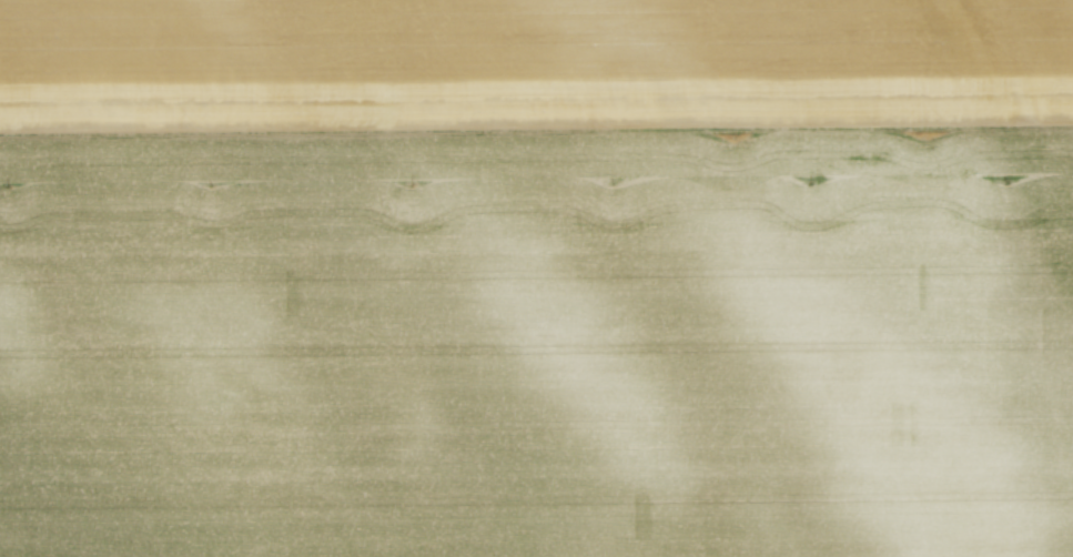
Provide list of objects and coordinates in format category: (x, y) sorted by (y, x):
crop: (536, 278)

